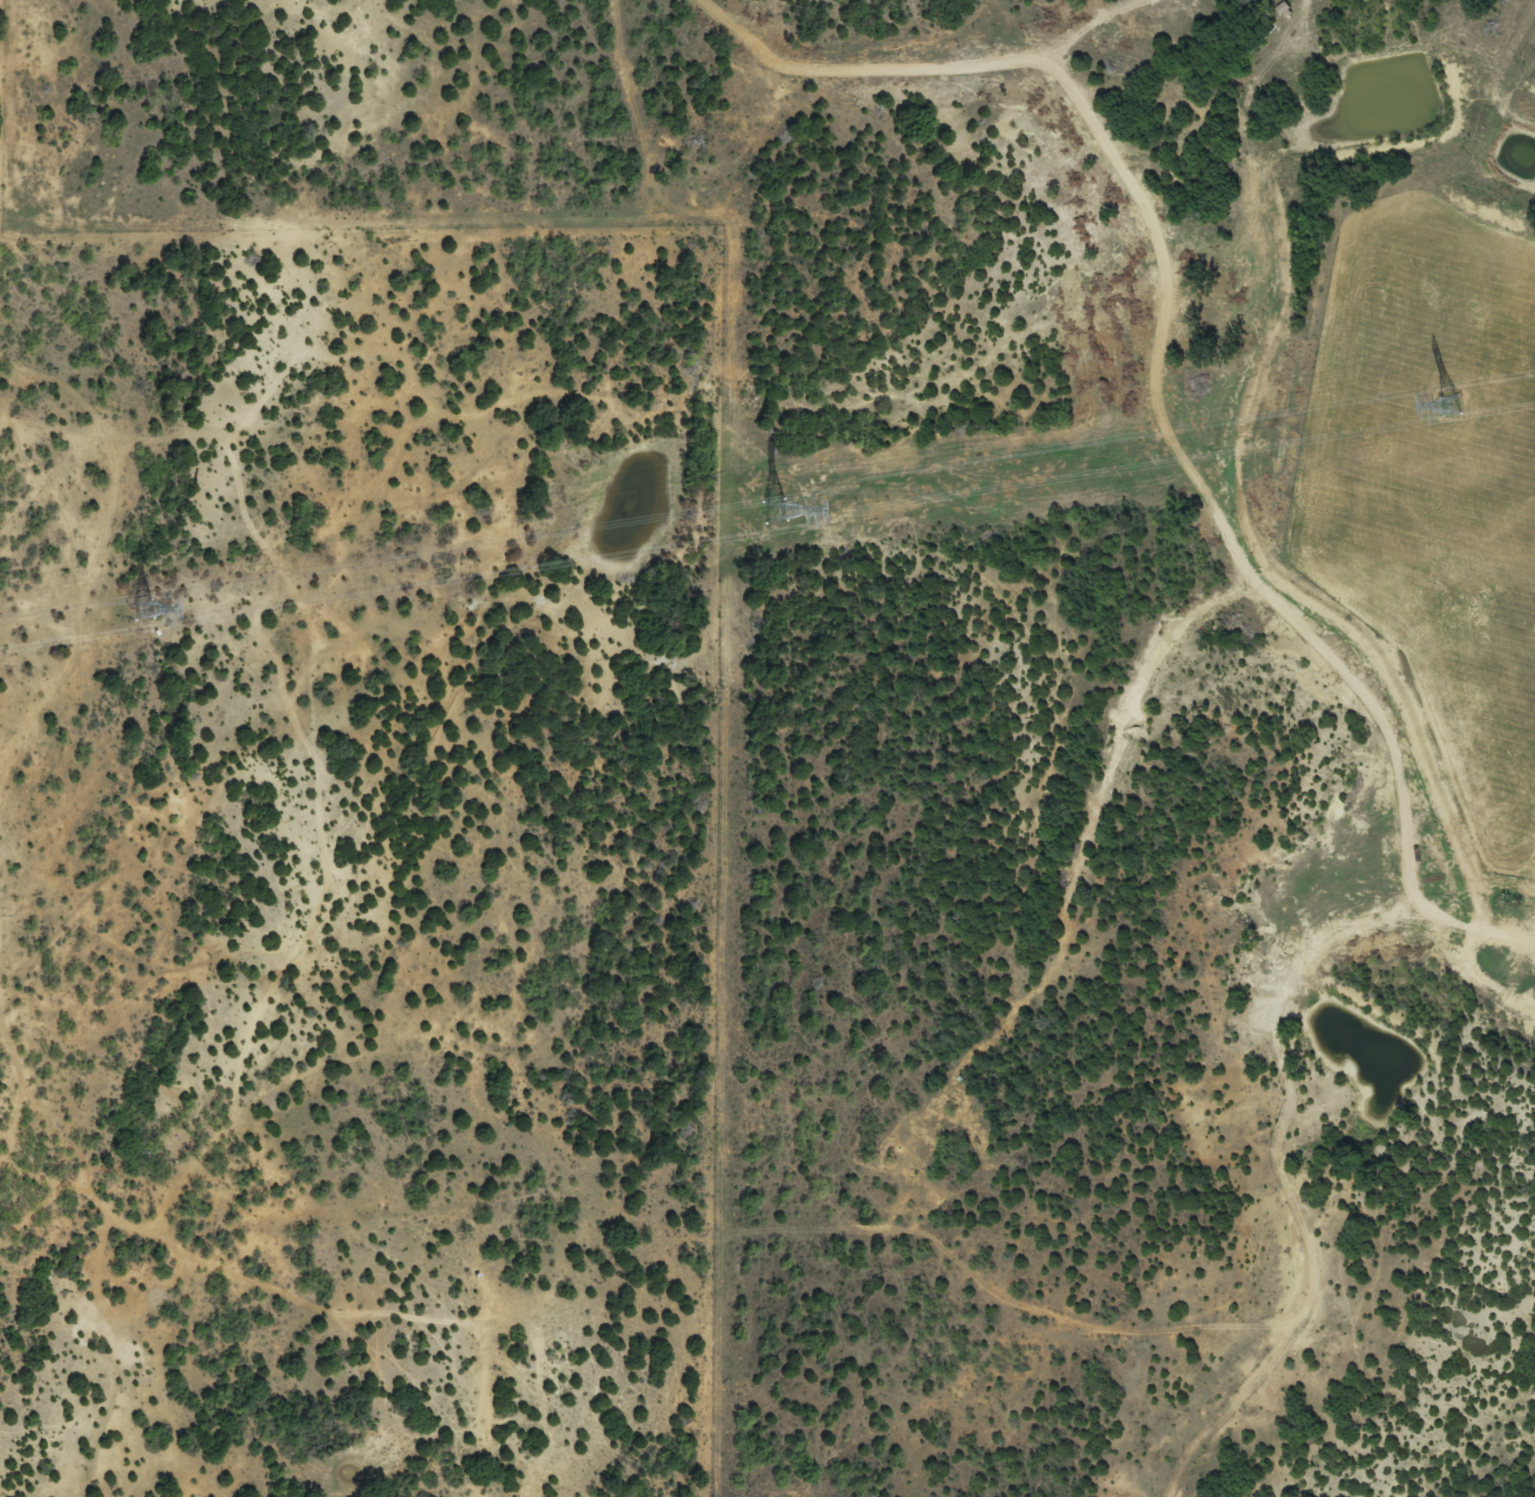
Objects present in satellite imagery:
power tower: (1449, 406)
power tower: (775, 513)
power tower: (143, 610)

